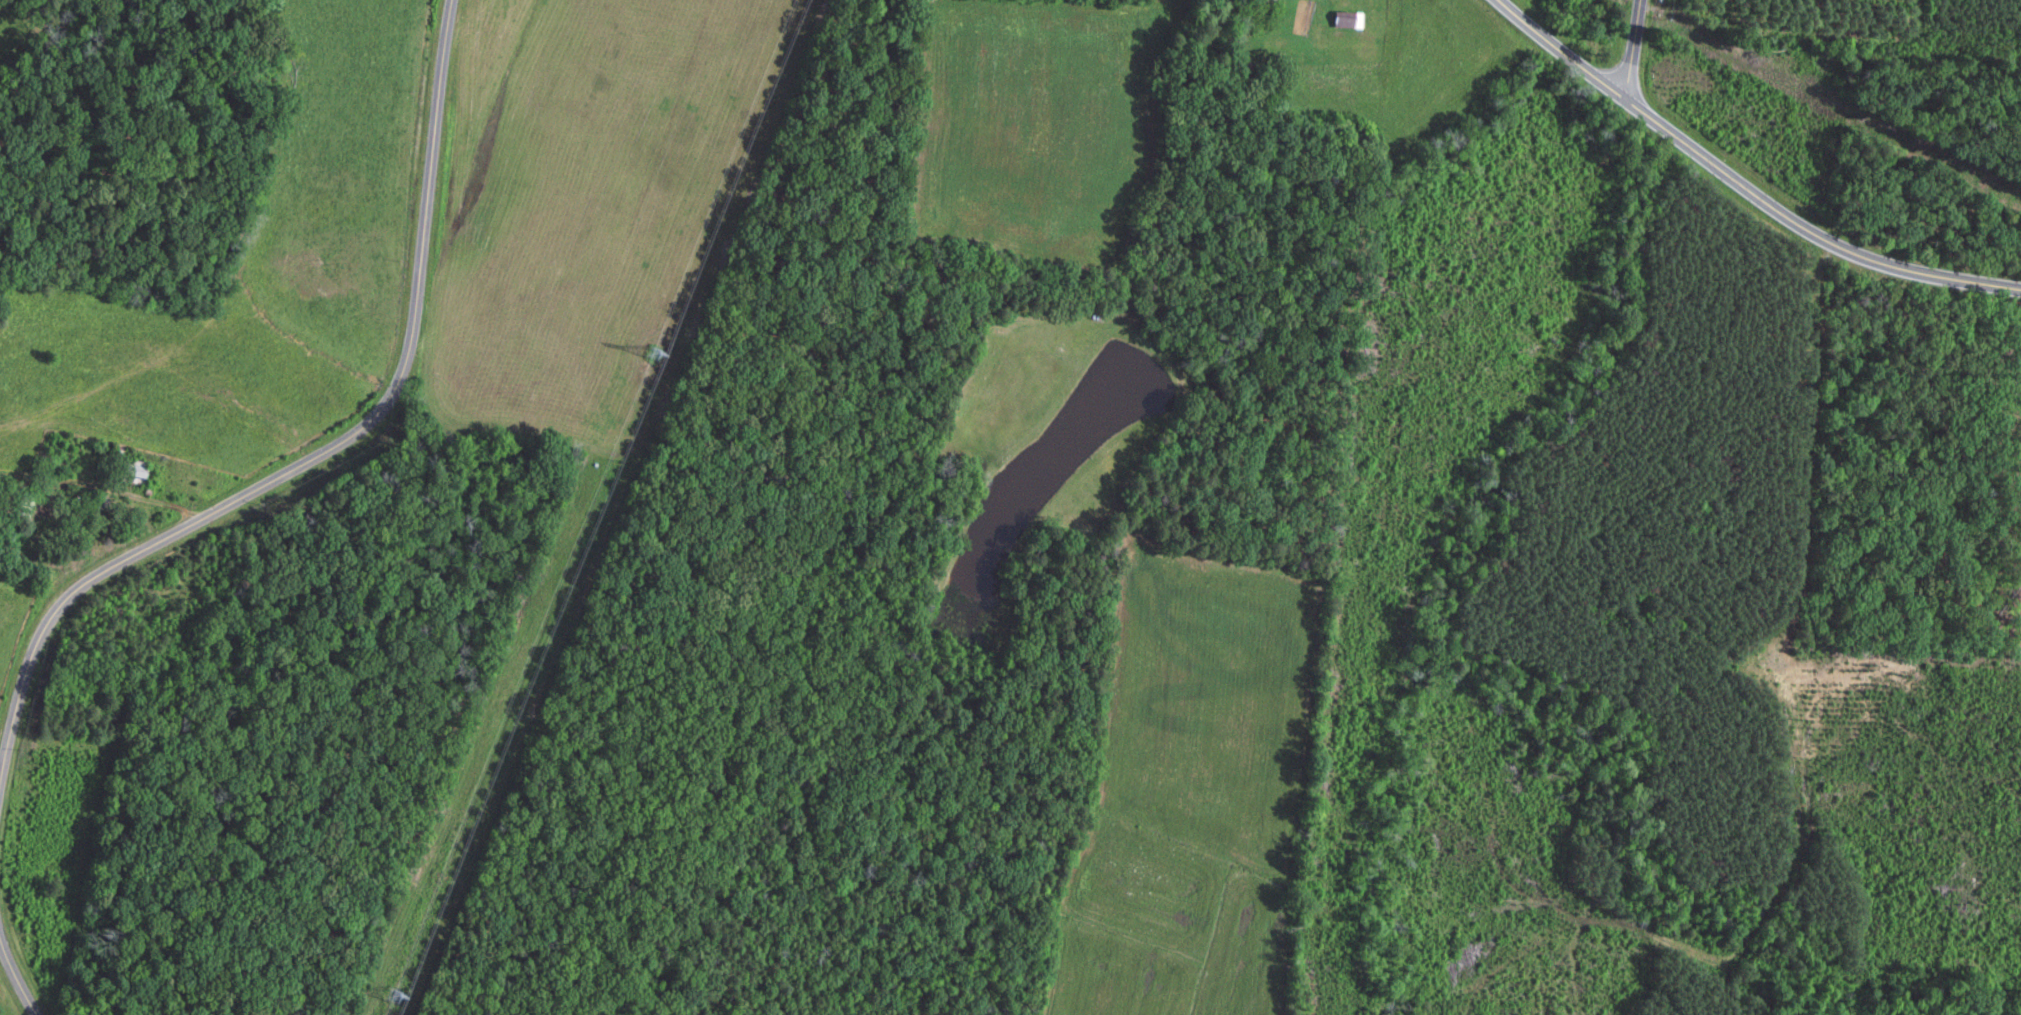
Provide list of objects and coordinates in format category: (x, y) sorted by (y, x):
building: (1349, 19)
road: (1631, 51)
road: (1740, 186)
road: (324, 451)
road: (101, 492)
road: (16, 979)

